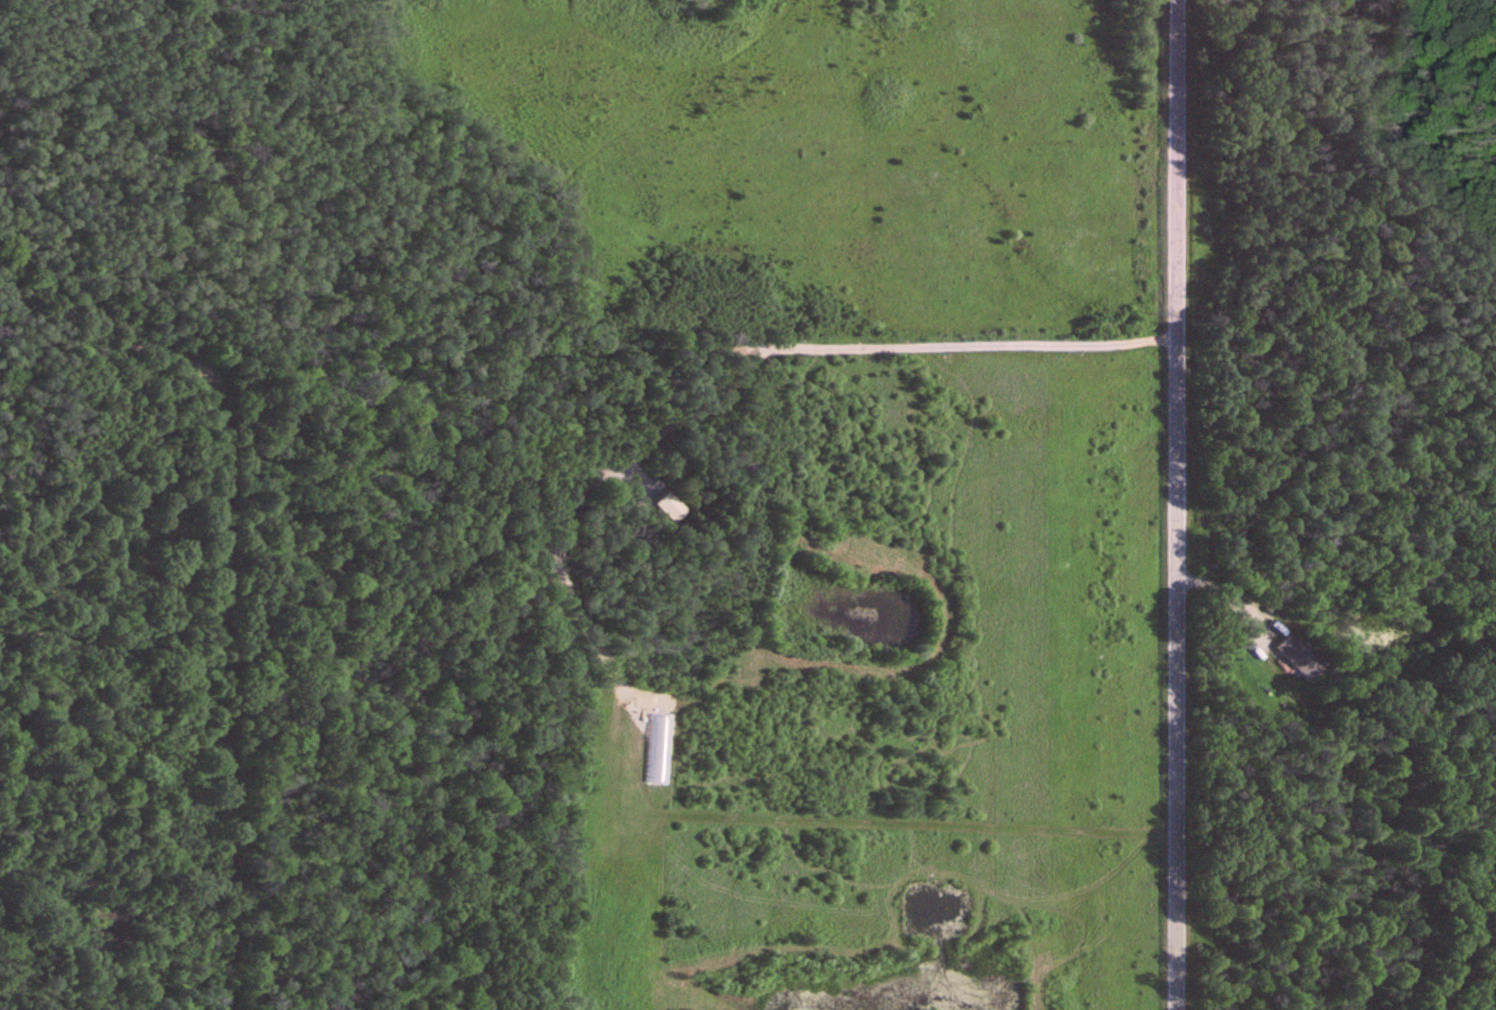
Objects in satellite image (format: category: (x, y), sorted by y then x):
road: (1176, 504)
building: (1301, 658)

